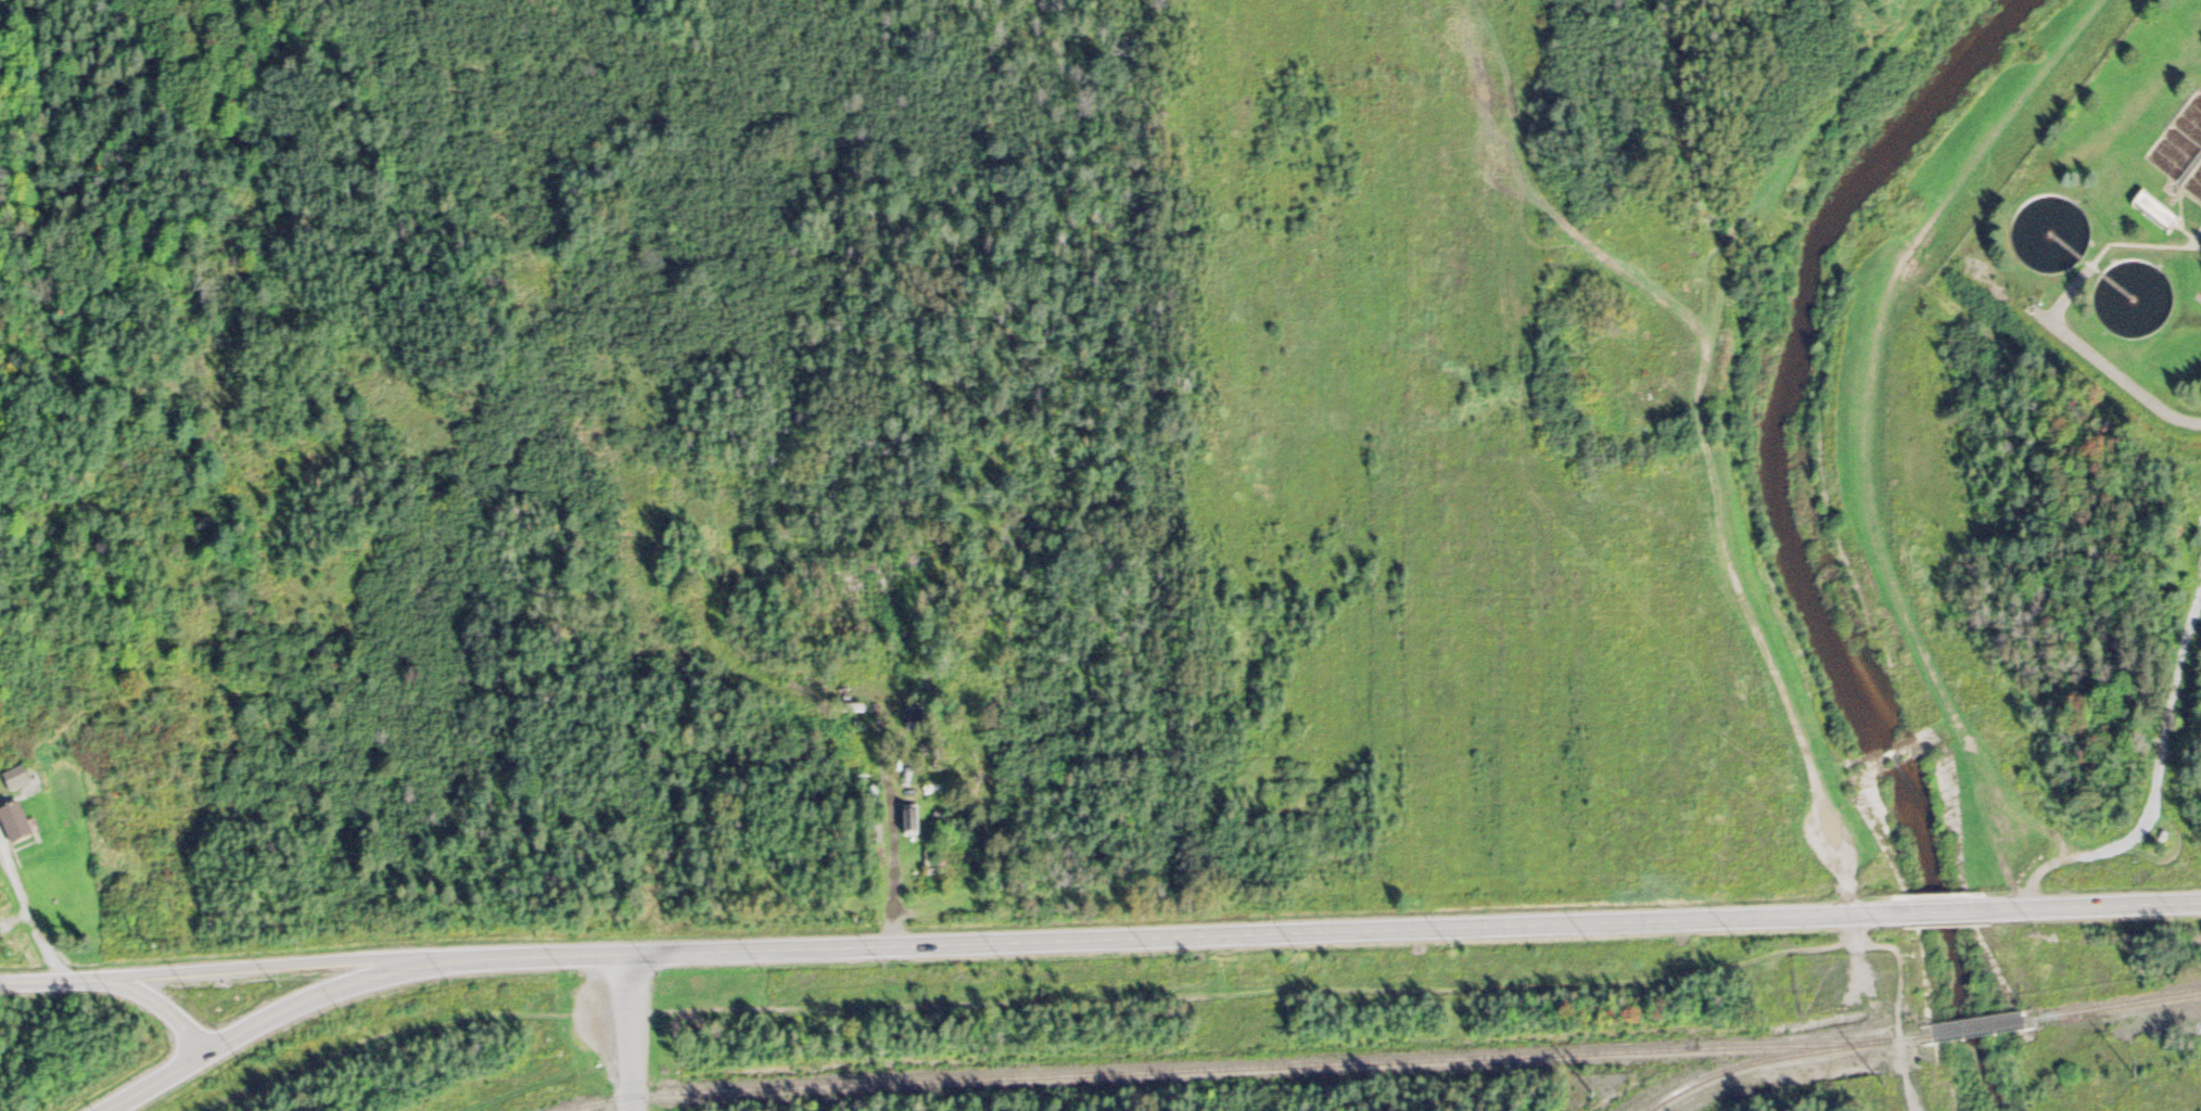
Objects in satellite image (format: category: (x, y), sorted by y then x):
wastewater plant: (2111, 219)

